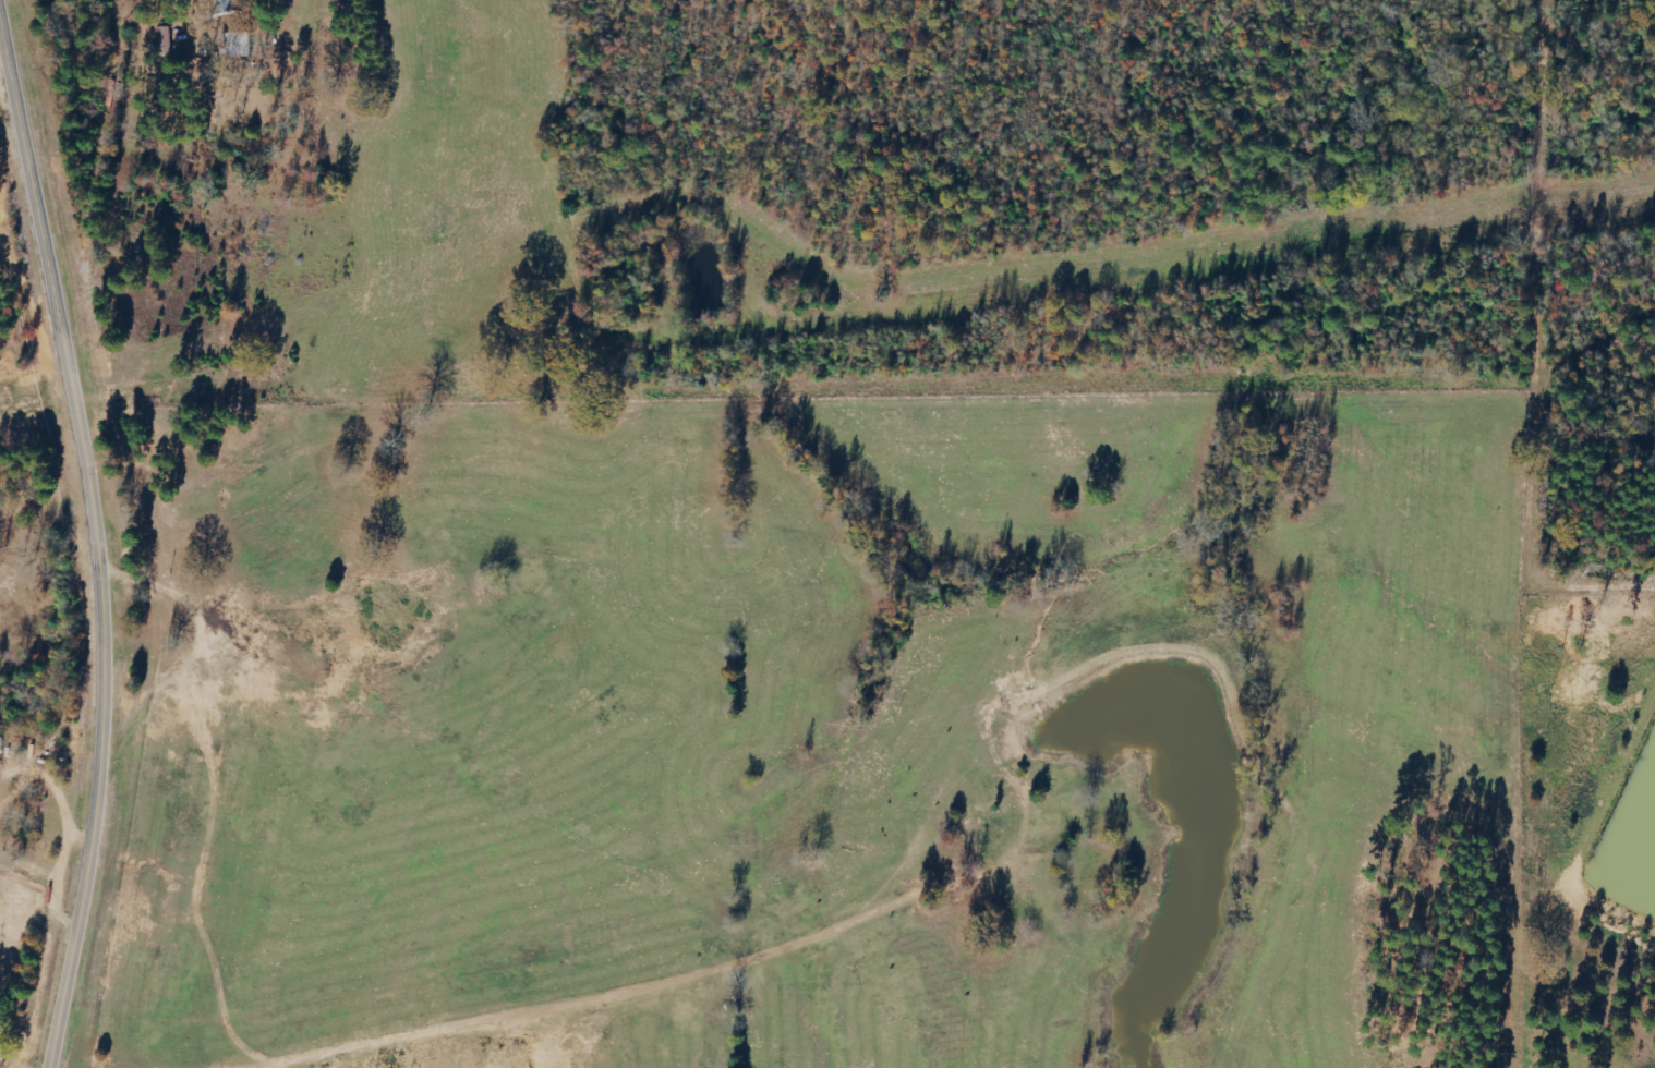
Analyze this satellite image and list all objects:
building: (229, 7)
building: (240, 46)
road: (102, 532)
road: (55, 721)
building: (4, 1051)

